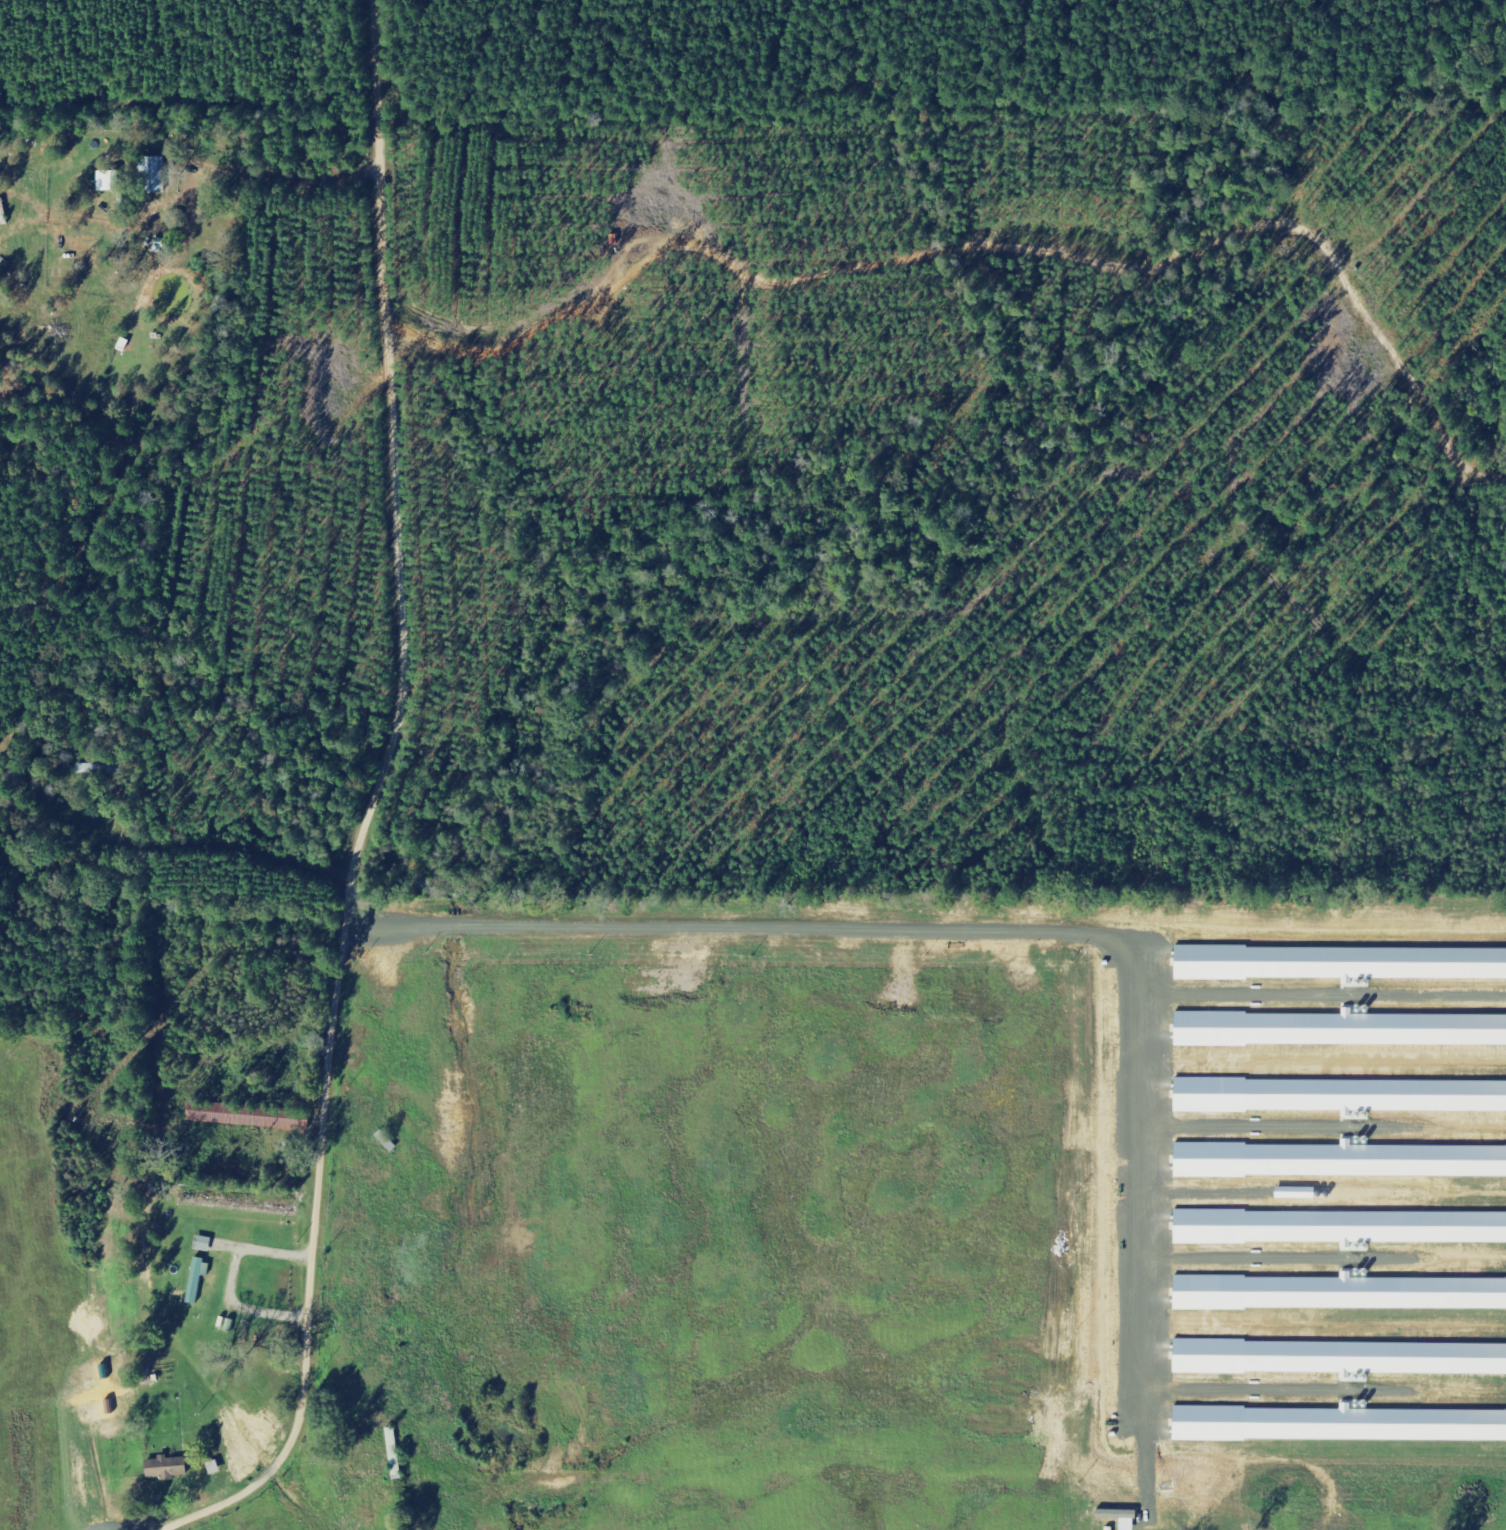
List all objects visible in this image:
building: (154, 175)
building: (117, 181)
road: (374, 791)
building: (1341, 963)
building: (1342, 1029)
building: (1343, 1096)
building: (1341, 1161)
building: (1341, 1228)
building: (1340, 1293)
building: (1341, 1358)
building: (1341, 1424)
building: (171, 1467)

